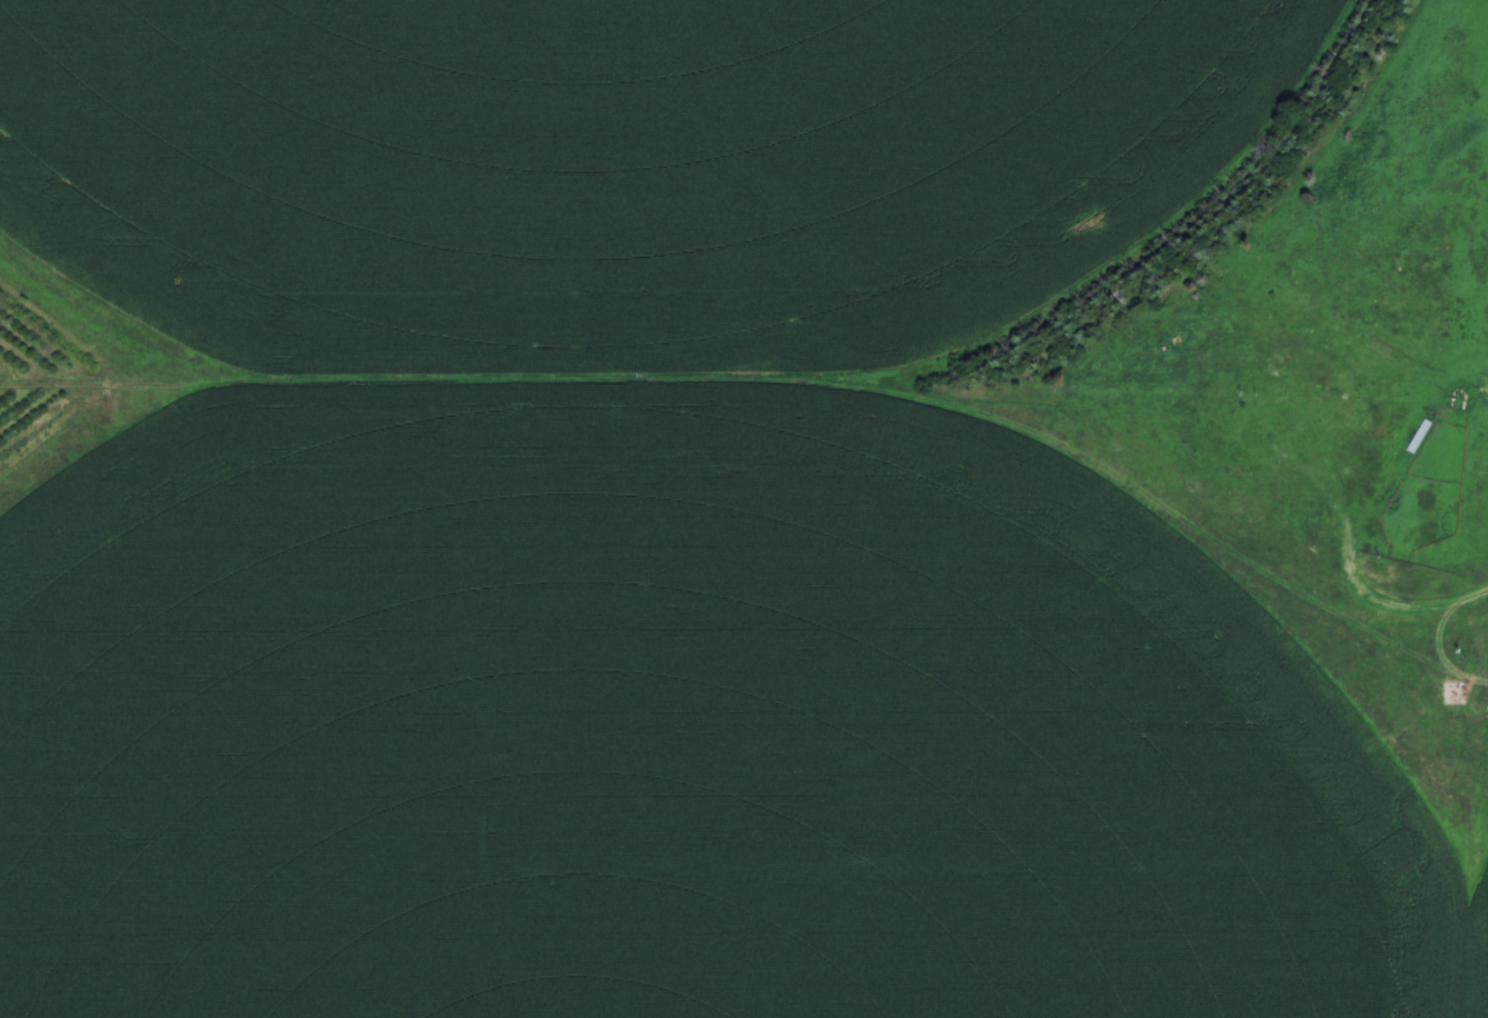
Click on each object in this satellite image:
building: (1420, 436)
road: (1427, 624)

